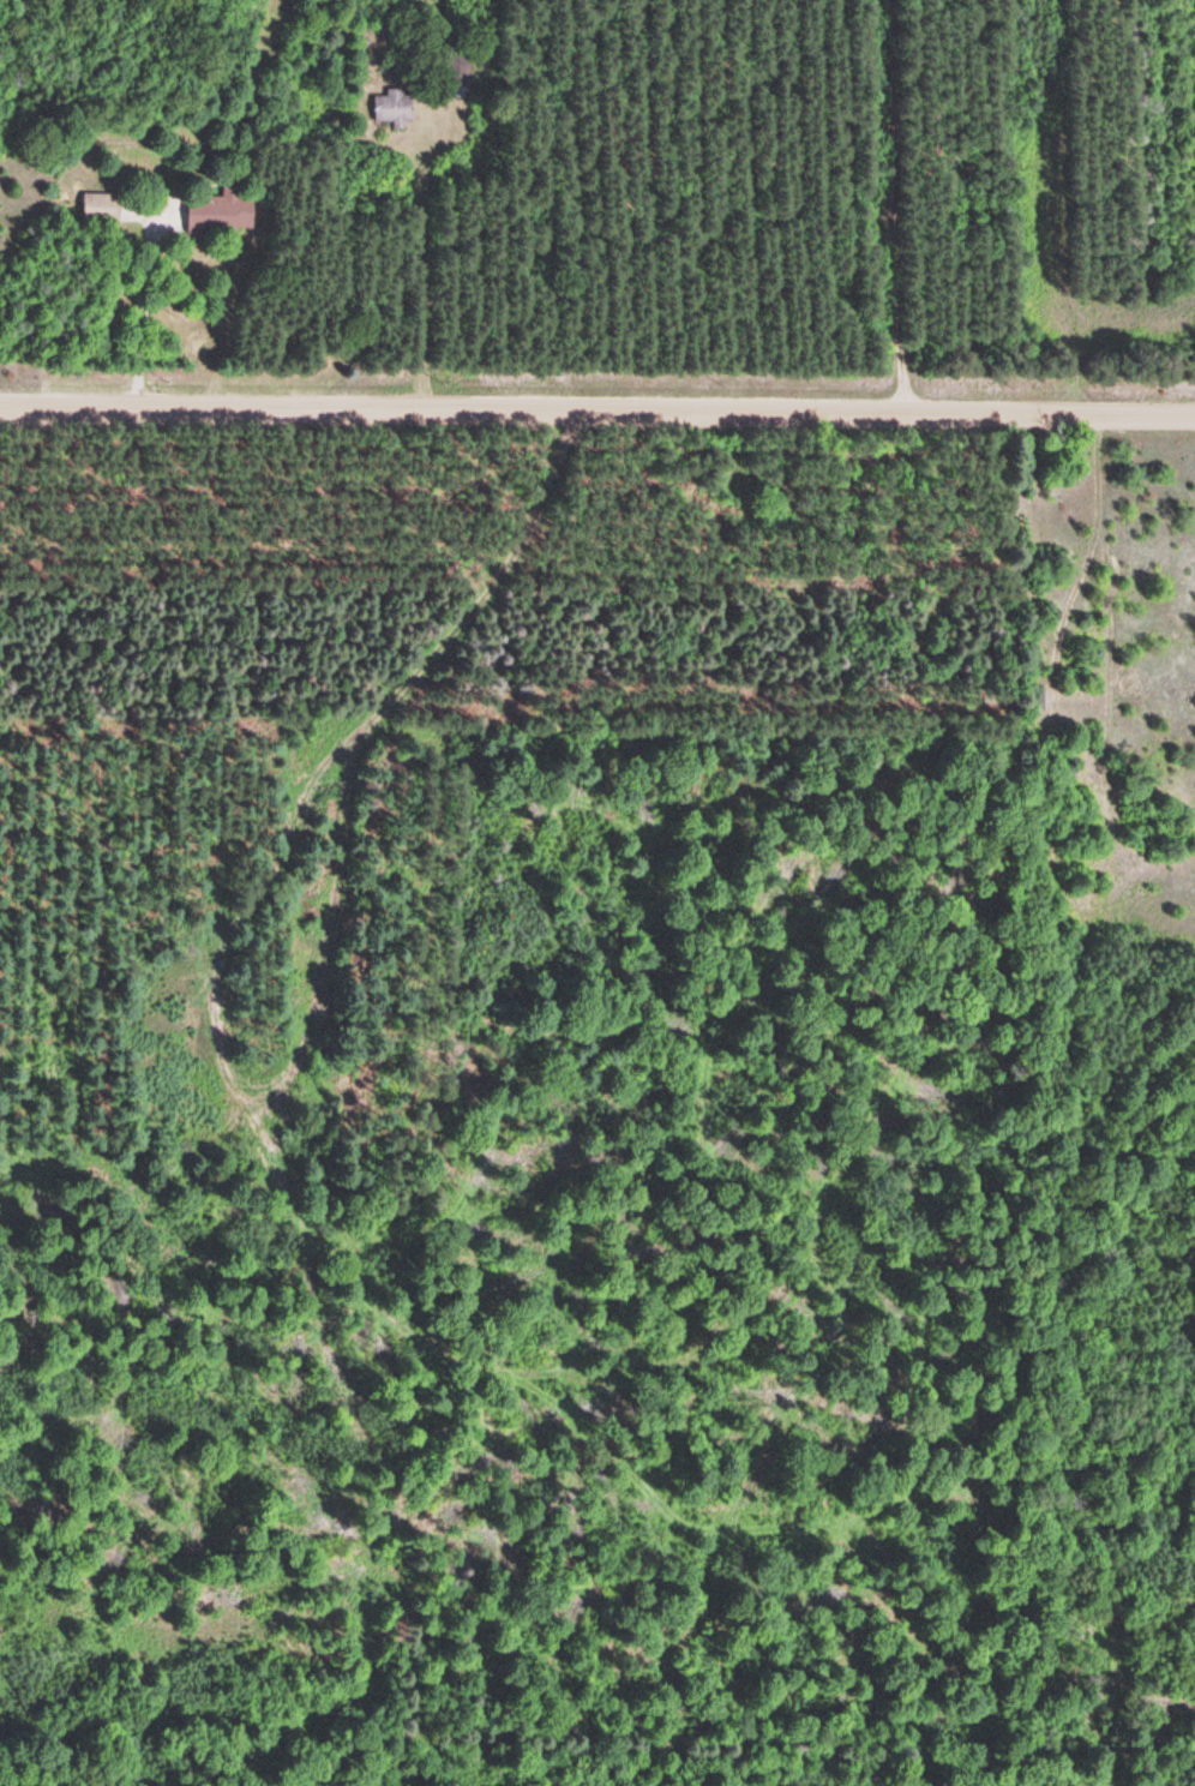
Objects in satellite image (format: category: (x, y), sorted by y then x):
building: (396, 108)
road: (900, 205)
road: (597, 408)

